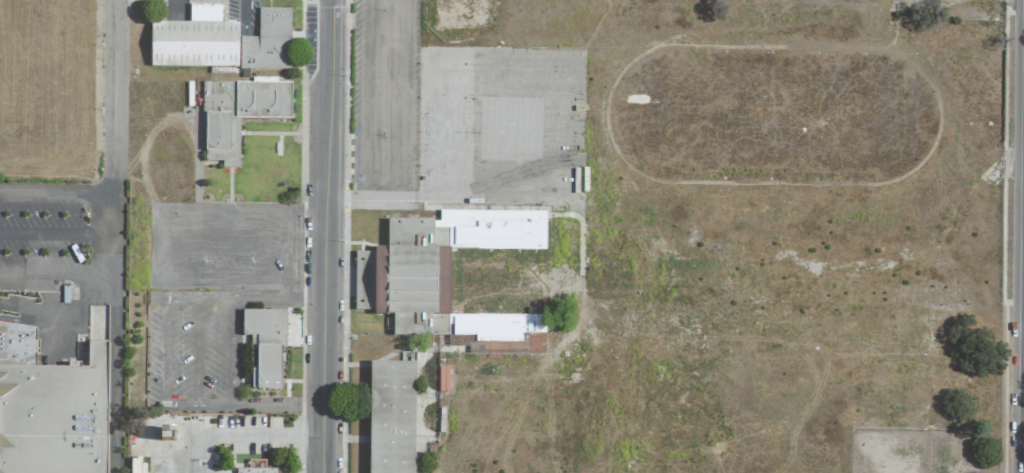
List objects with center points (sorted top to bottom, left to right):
building: (222, 41)
crop: (47, 89)
road: (111, 98)
road: (367, 100)
road: (397, 100)
building: (239, 114)
road: (347, 200)
road: (381, 201)
road: (55, 233)
road: (329, 236)
parking lot: (60, 253)
building: (611, 266)
road: (54, 273)
building: (453, 278)
road: (108, 280)
road: (248, 297)
road: (57, 312)
building: (98, 324)
building: (19, 348)
road: (162, 350)
road: (197, 350)
road: (232, 350)
building: (268, 355)
road: (245, 404)
building: (392, 416)
building: (56, 418)
building: (137, 465)
building: (256, 468)

